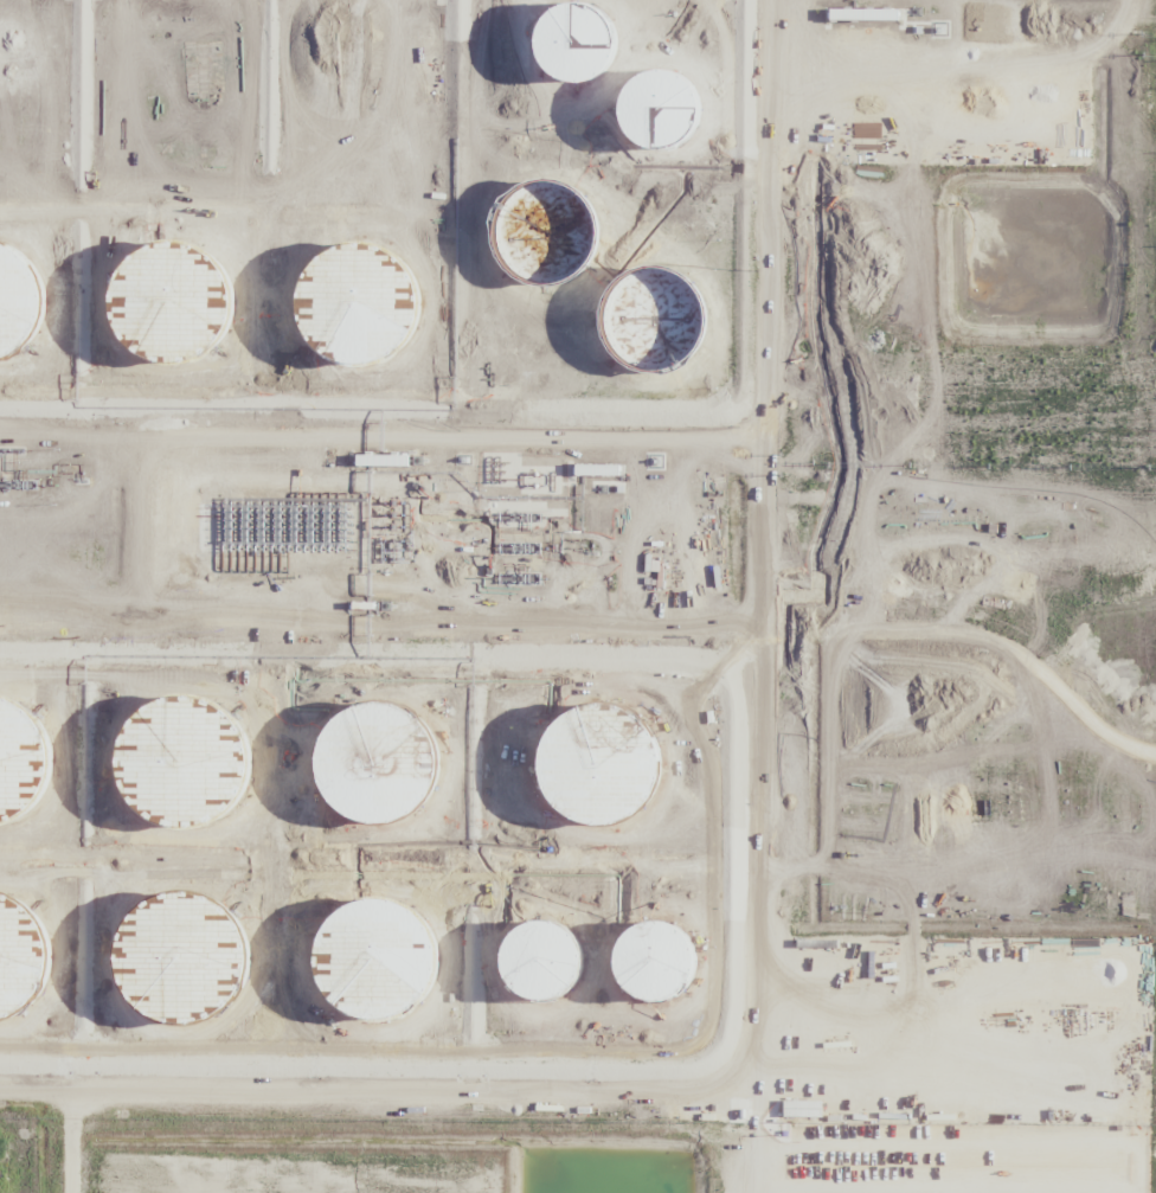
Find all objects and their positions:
crop: (578, 595)

